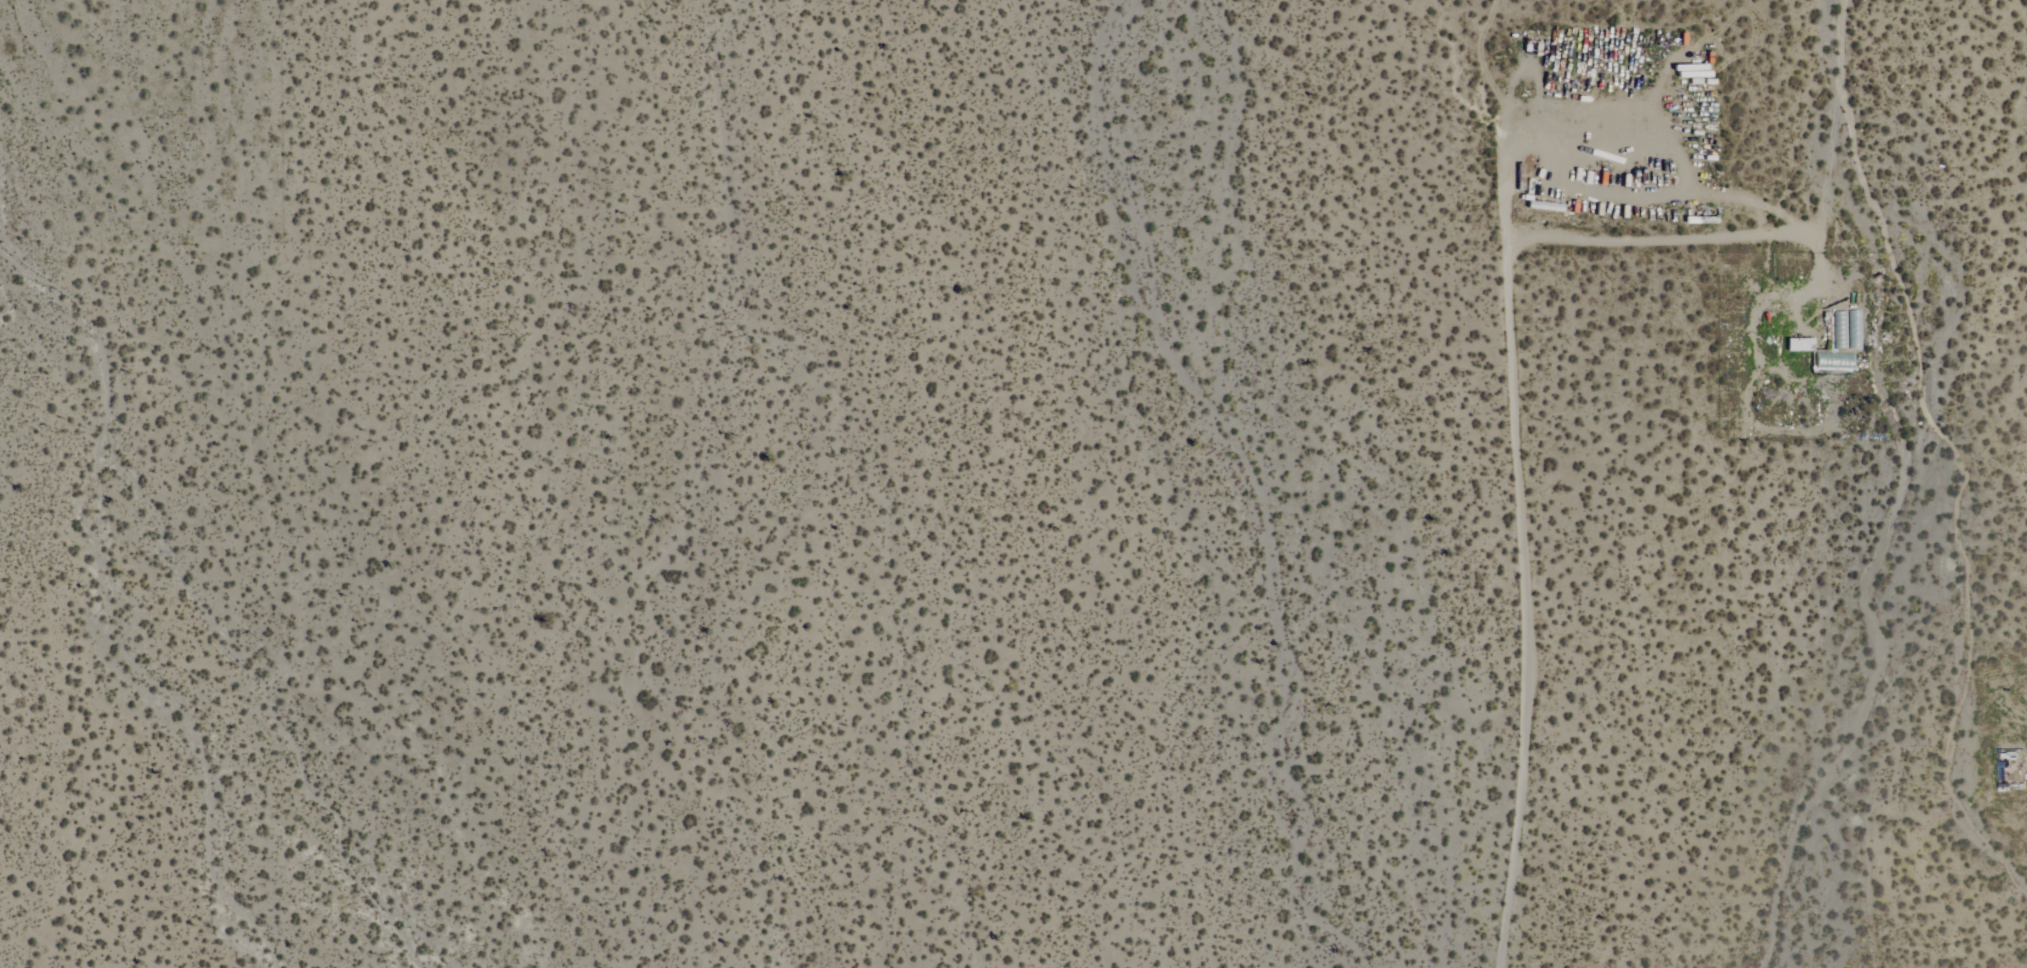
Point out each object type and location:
road: (1502, 121)
road: (1508, 299)
building: (1803, 344)

